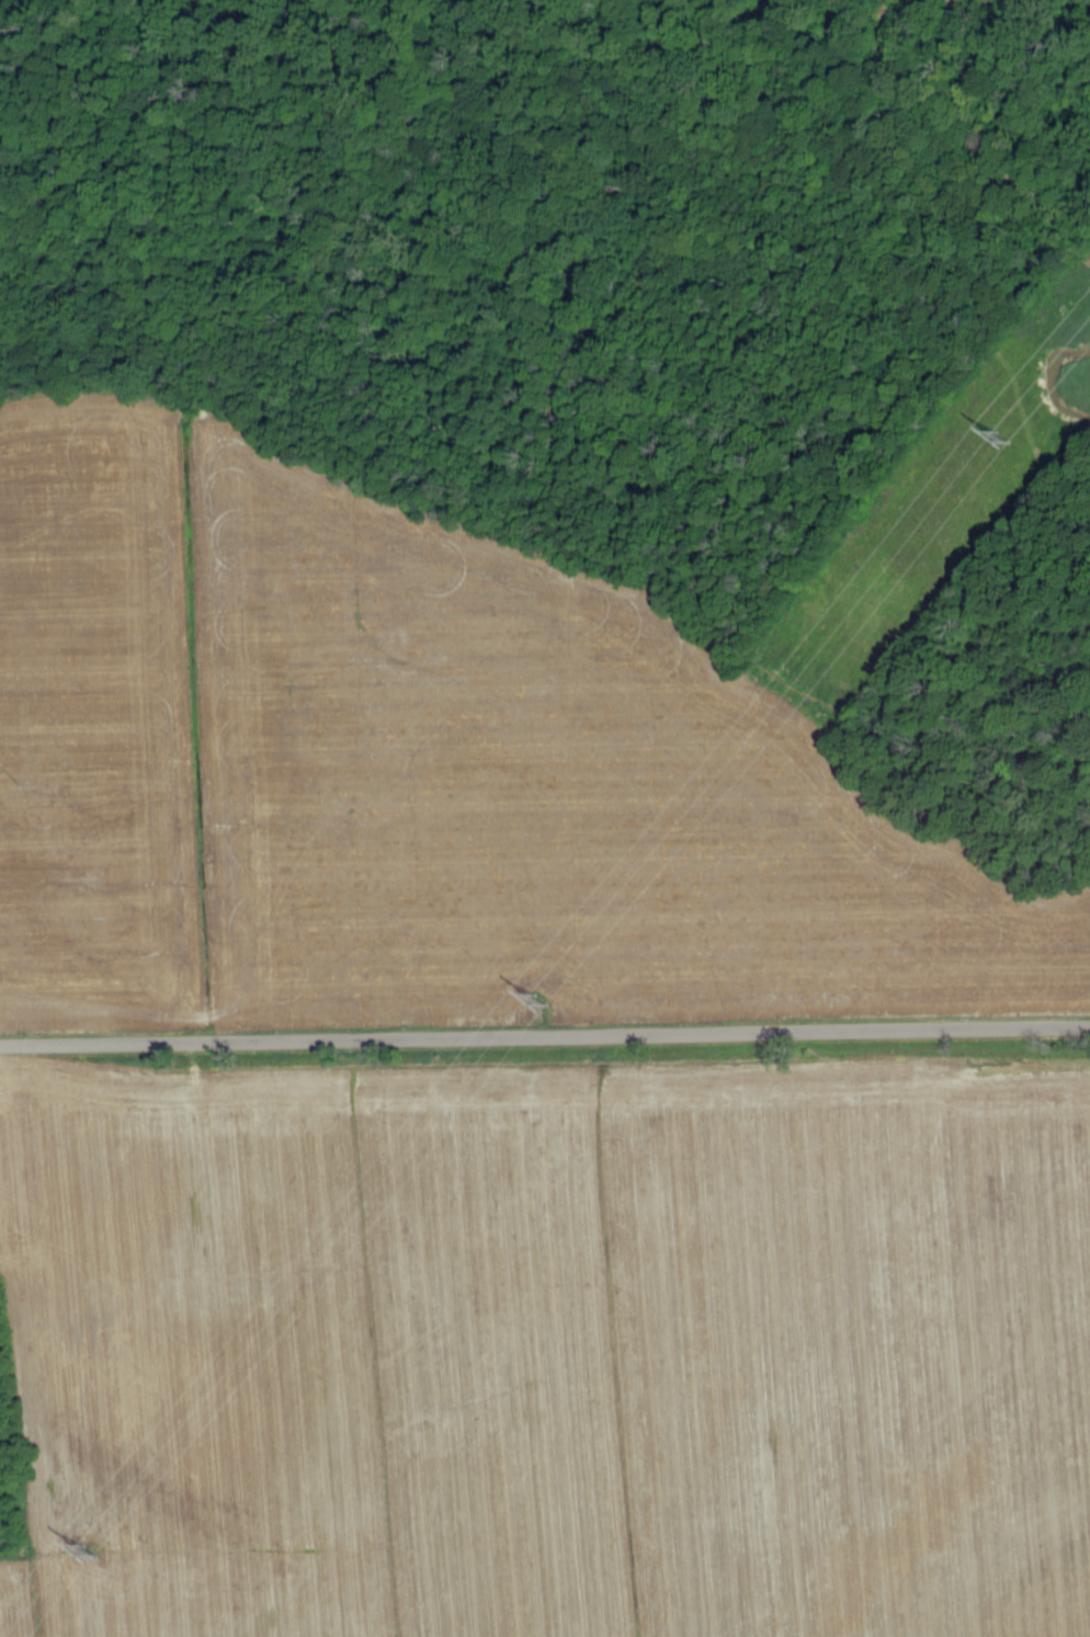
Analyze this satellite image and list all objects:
power tower: (1001, 436)
power tower: (540, 1000)
road: (545, 1041)
power tower: (84, 1547)

